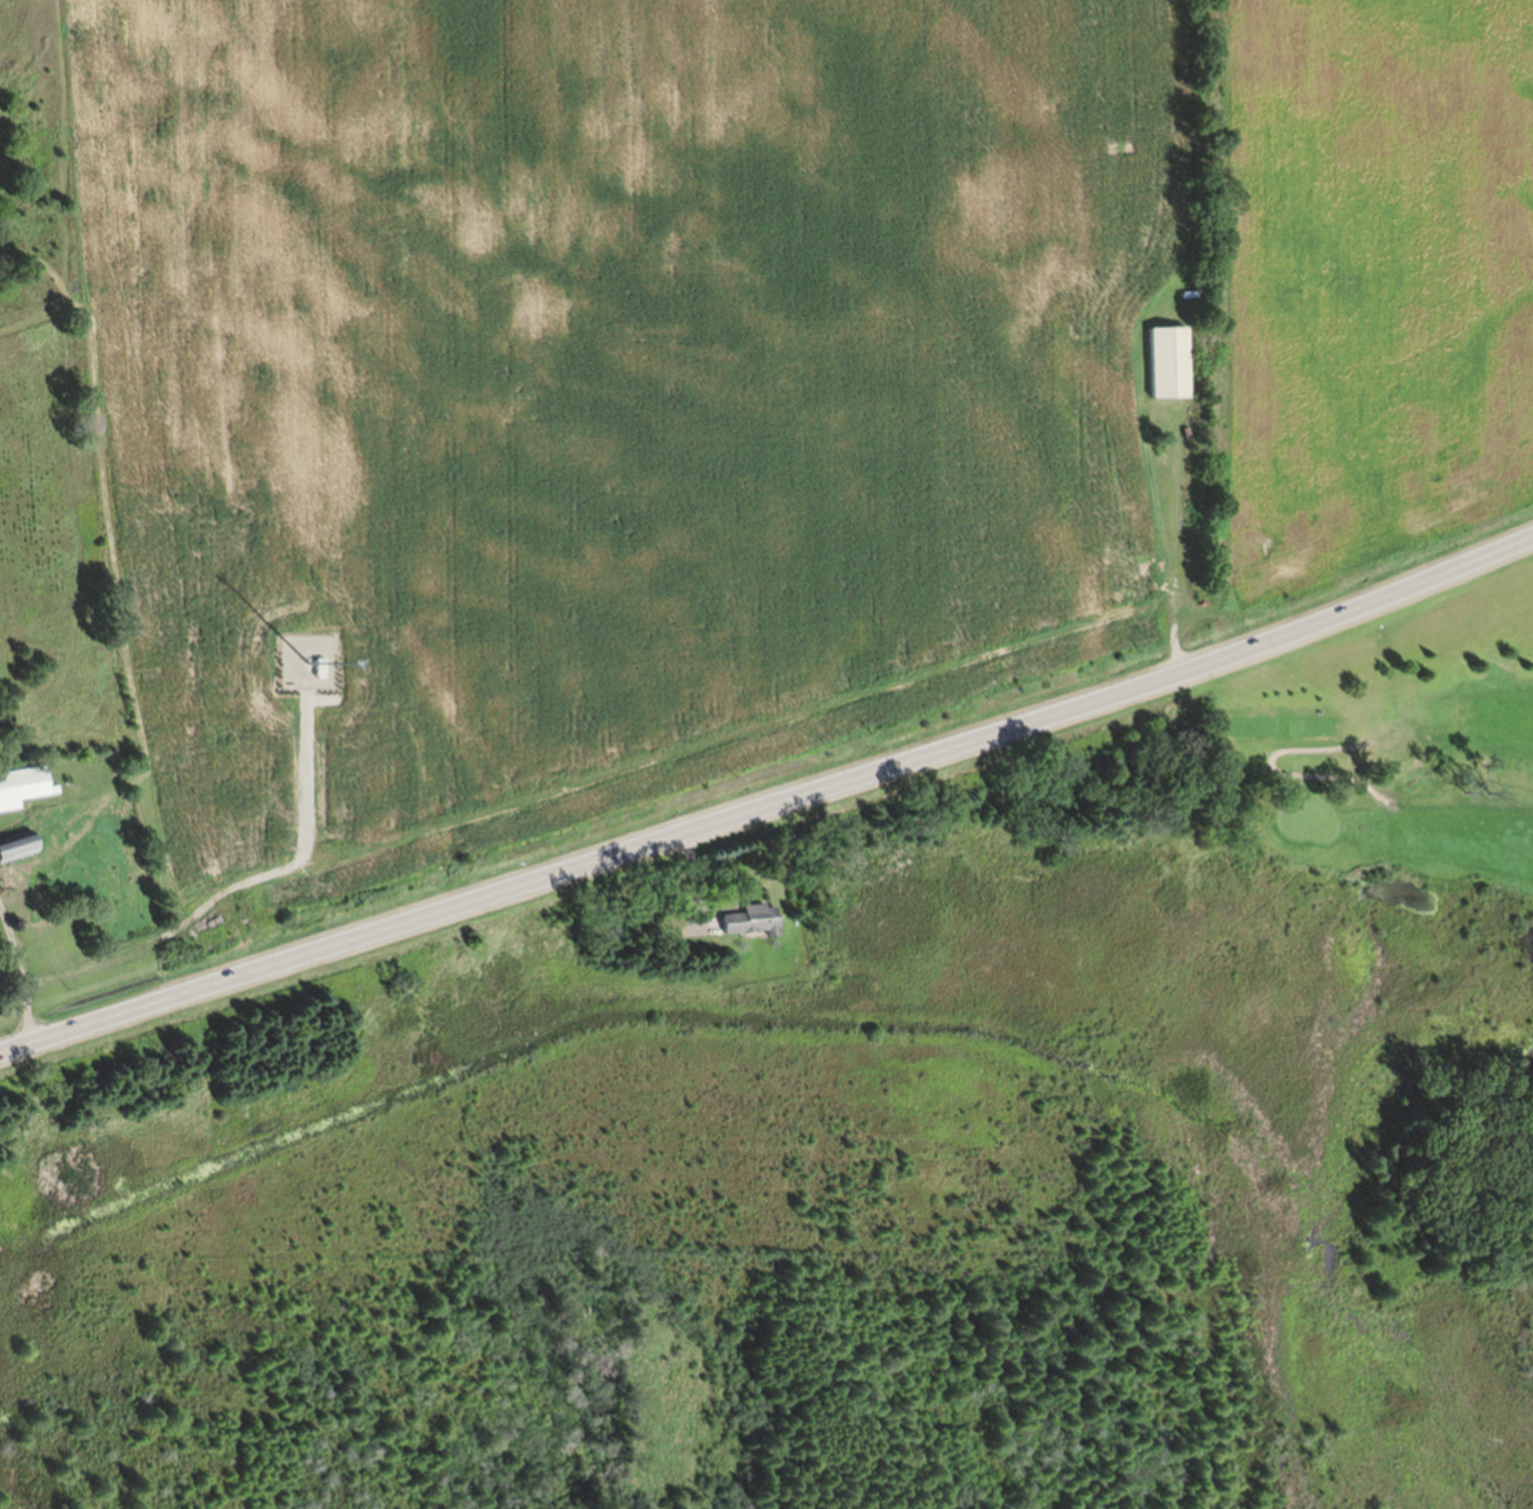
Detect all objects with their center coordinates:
building: (1166, 370)
building: (301, 683)
building: (21, 793)
road: (770, 809)
building: (16, 853)
building: (746, 927)
road: (15, 980)

